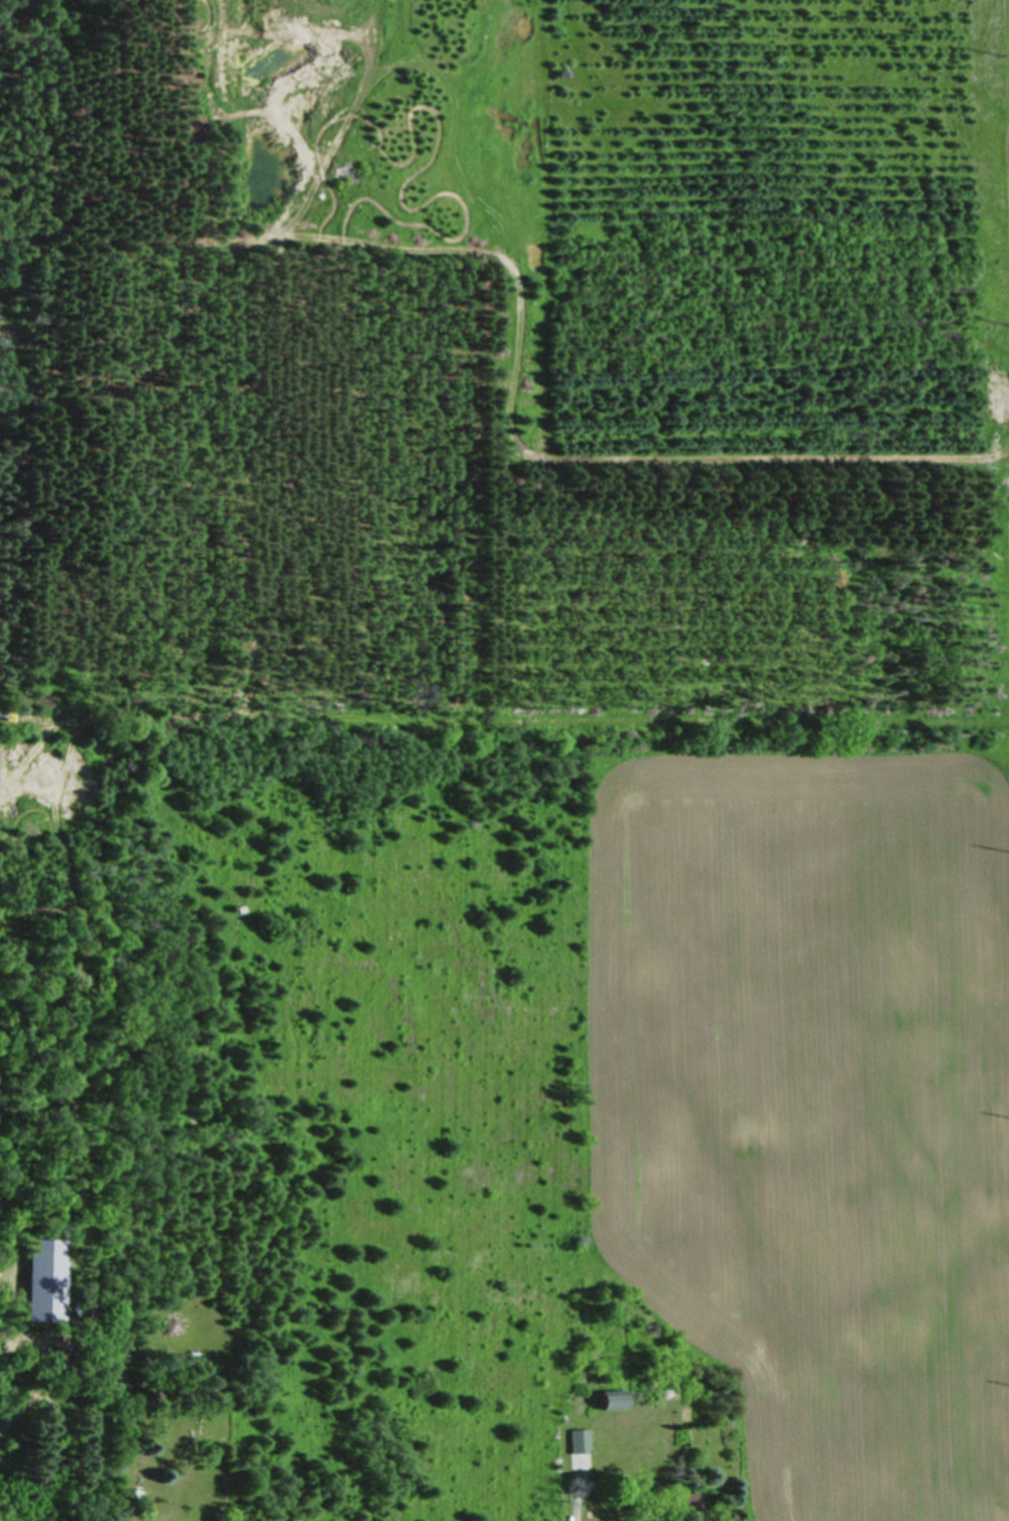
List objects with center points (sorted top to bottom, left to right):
power tower: (1000, 56)
power tower: (1008, 322)
building: (43, 1281)
building: (610, 1399)
building: (579, 1440)

